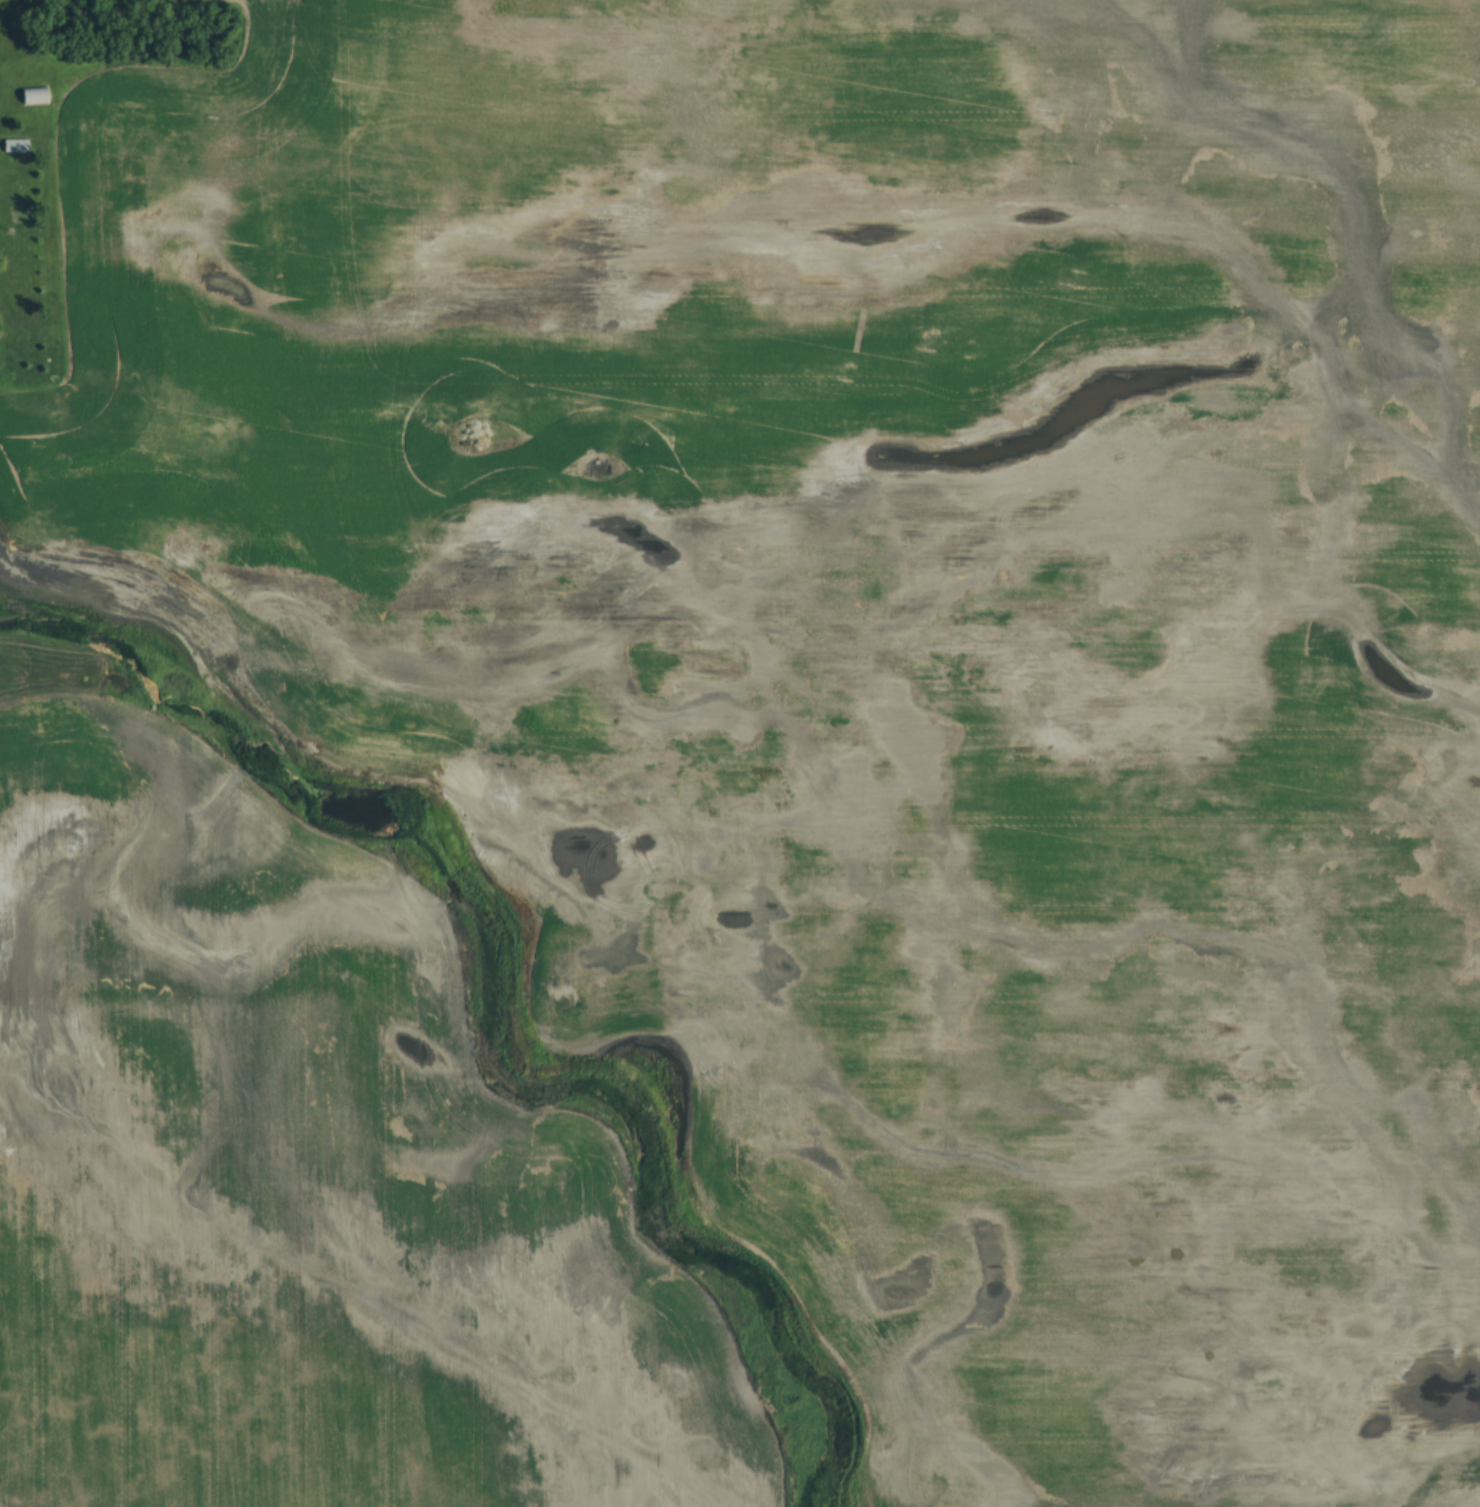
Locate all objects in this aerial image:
building: (34, 96)
building: (17, 146)

